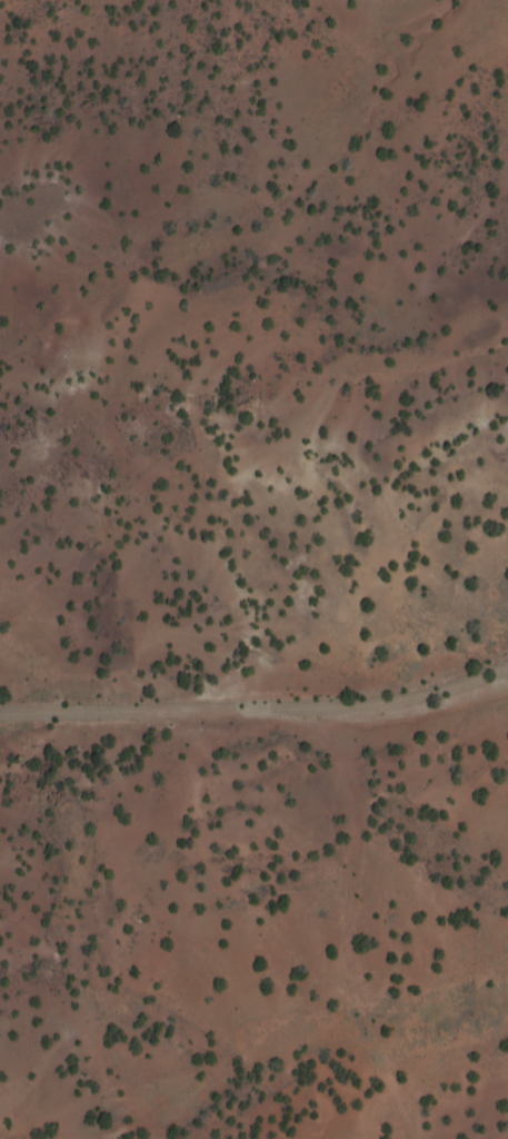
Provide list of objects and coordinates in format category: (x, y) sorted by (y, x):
road: (256, 713)
road: (352, 925)

